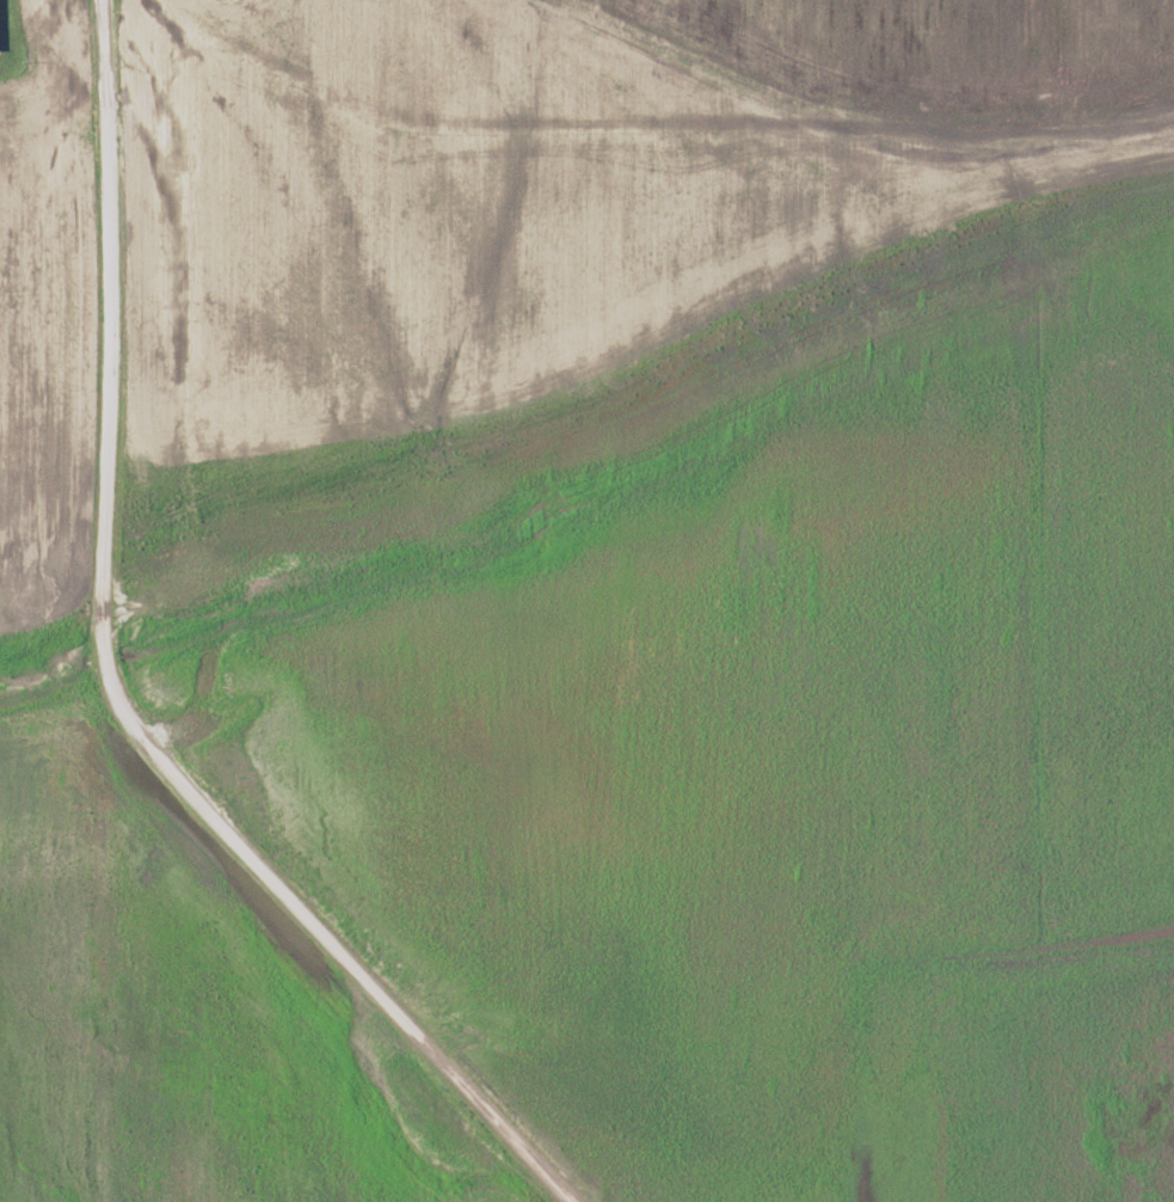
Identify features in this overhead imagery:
road: (121, 687)

